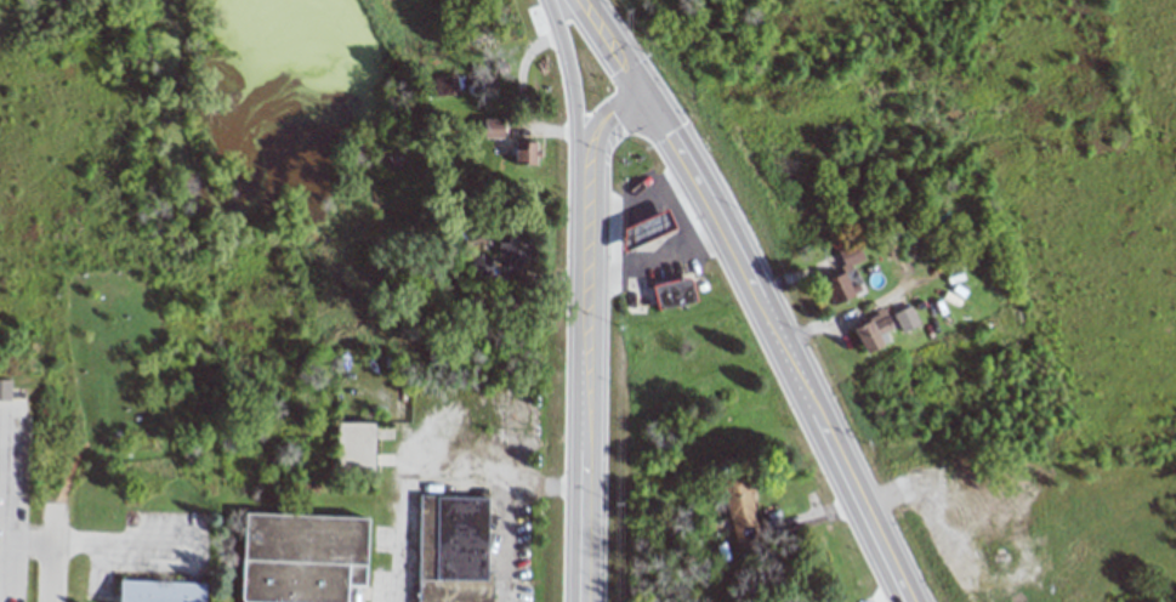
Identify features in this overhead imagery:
road: (600, 46)
road: (564, 80)
building: (444, 85)
road: (597, 121)
building: (492, 127)
building: (524, 153)
road: (632, 192)
road: (671, 215)
building: (643, 228)
road: (617, 232)
building: (515, 254)
road: (653, 259)
building: (482, 263)
building: (843, 276)
building: (671, 291)
building: (905, 318)
building: (871, 331)
road: (772, 343)
road: (584, 381)
building: (4, 388)
building: (351, 445)
road: (453, 485)
parking lot: (11, 493)
road: (4, 504)
building: (739, 512)
road: (97, 541)
parking lot: (505, 546)
building: (451, 549)
road: (47, 552)
building: (299, 557)
parking lot: (392, 564)
building: (157, 591)

